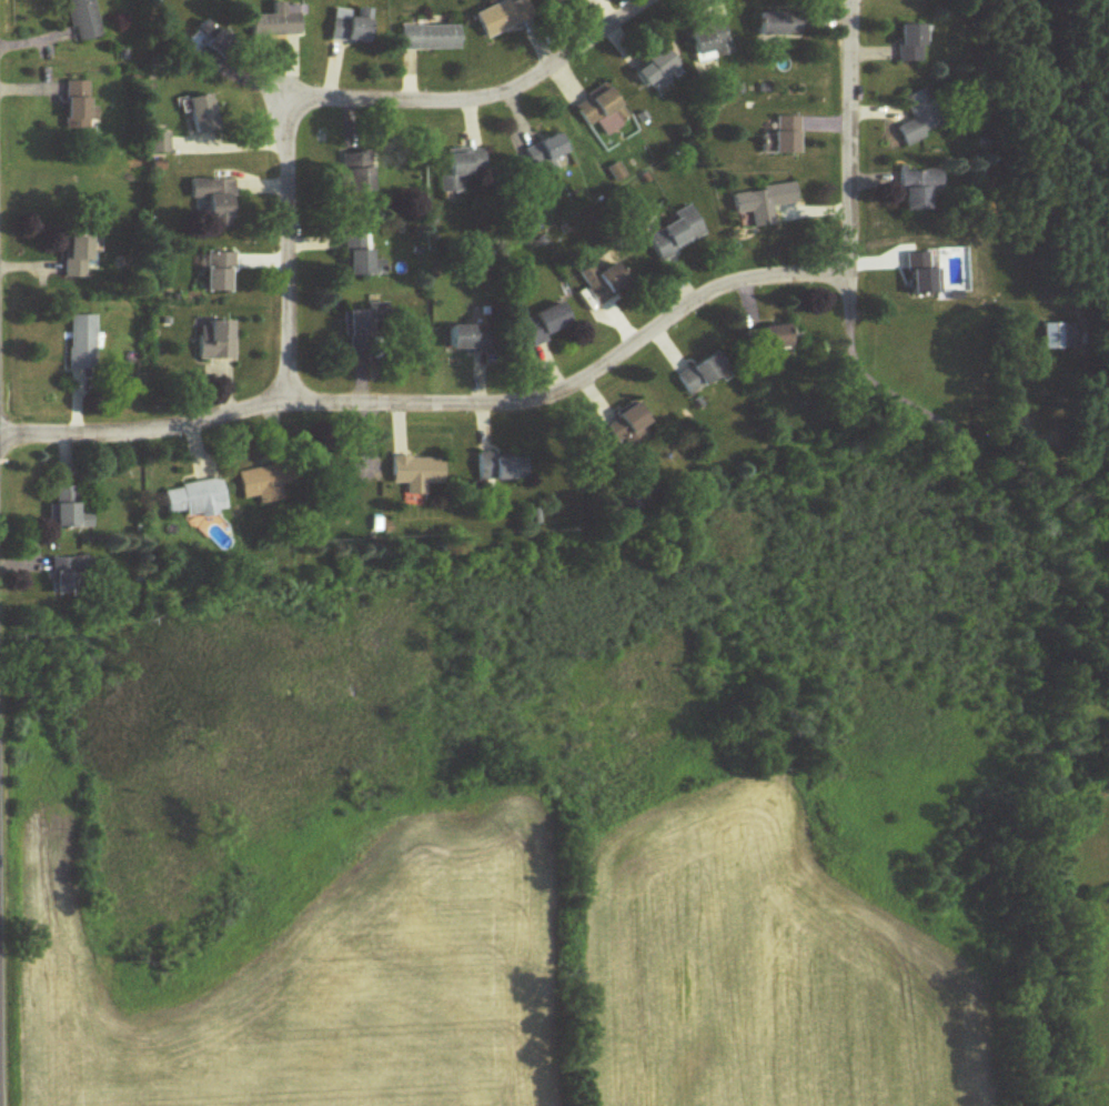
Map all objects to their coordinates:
building: (502, 16)
building: (83, 19)
building: (274, 23)
building: (778, 23)
building: (350, 28)
building: (427, 38)
building: (709, 39)
building: (908, 42)
building: (656, 70)
road: (487, 100)
building: (75, 105)
building: (603, 111)
building: (201, 114)
building: (917, 117)
building: (786, 134)
building: (158, 143)
building: (544, 153)
road: (853, 160)
building: (461, 168)
building: (356, 172)
building: (918, 188)
building: (213, 200)
building: (763, 202)
building: (676, 233)
building: (357, 254)
road: (289, 255)
building: (74, 258)
building: (216, 272)
building: (921, 275)
building: (602, 281)
building: (369, 323)
building: (545, 324)
building: (1057, 336)
building: (775, 338)
building: (468, 339)
building: (214, 340)
building: (80, 342)
building: (702, 373)
road: (441, 406)
building: (627, 425)
road: (964, 434)
building: (503, 466)
building: (339, 471)
building: (416, 473)
building: (260, 485)
building: (194, 499)
building: (69, 511)
building: (68, 576)

